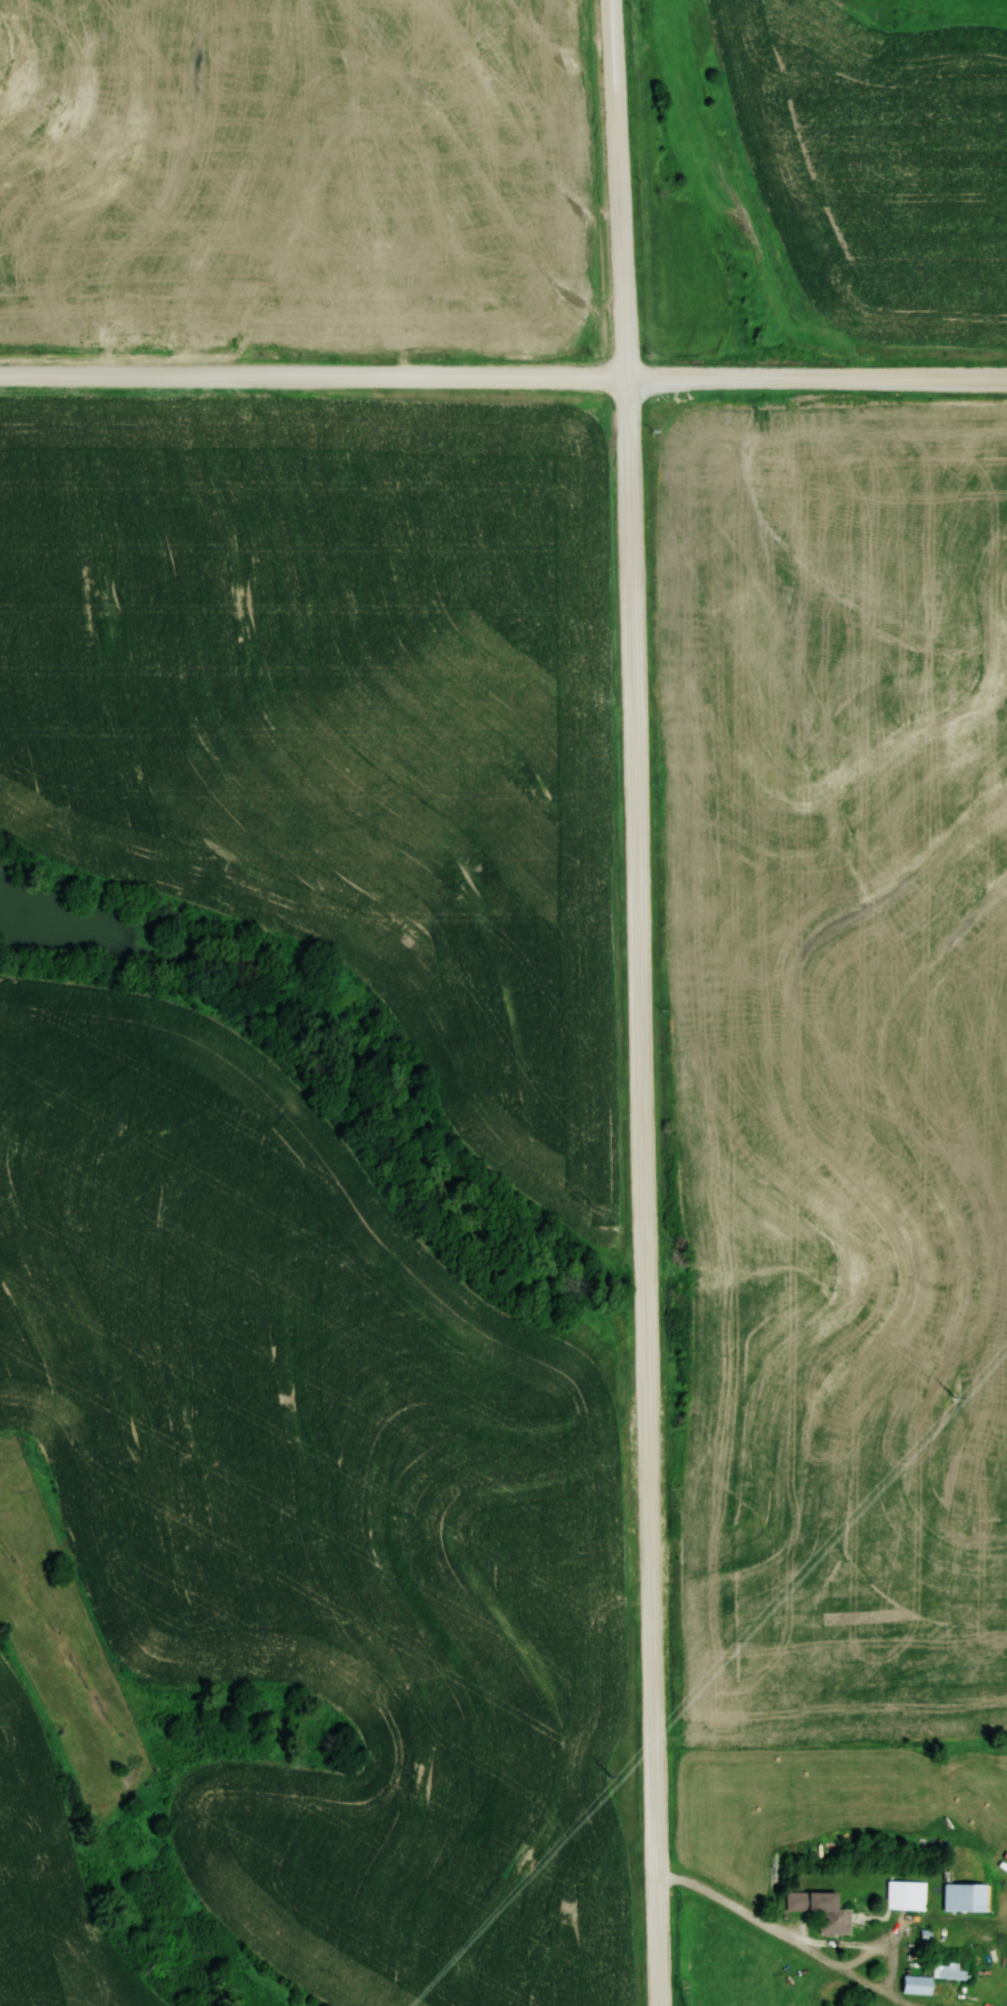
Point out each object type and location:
road: (315, 373)
road: (818, 375)
road: (640, 1002)
power tower: (956, 1392)
power tower: (622, 1761)
building: (907, 1895)
building: (820, 1909)
building: (951, 1973)
building: (915, 1984)

